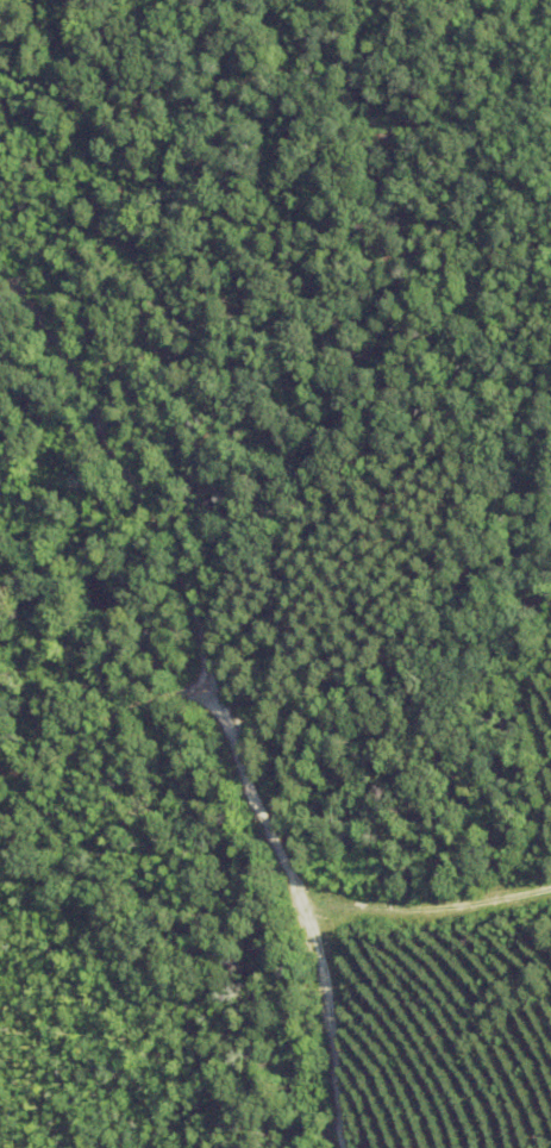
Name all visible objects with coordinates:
road: (190, 675)
road: (95, 743)

